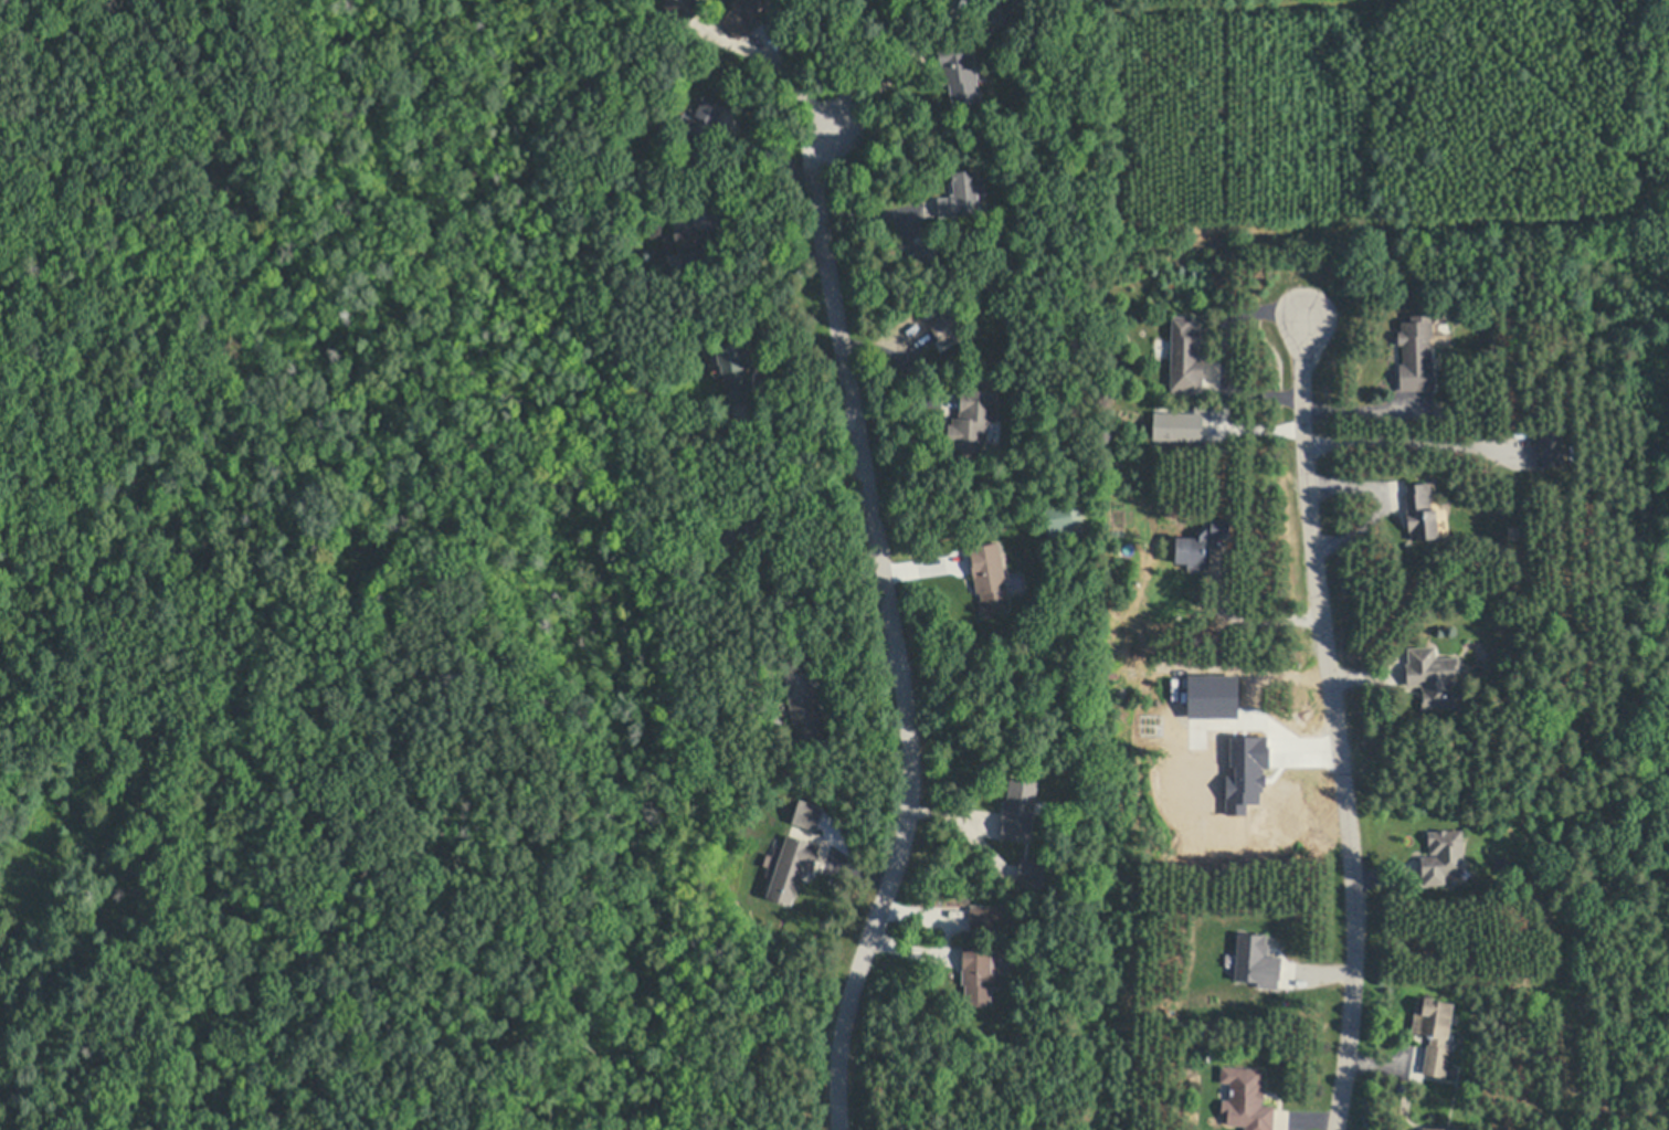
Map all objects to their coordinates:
building: (993, 0)
building: (684, 8)
building: (1014, 11)
building: (743, 17)
road: (784, 66)
building: (960, 70)
building: (700, 126)
building: (964, 194)
building: (688, 240)
building: (915, 251)
building: (936, 308)
building: (947, 327)
building: (1416, 353)
building: (1186, 356)
building: (737, 369)
building: (973, 419)
road: (1411, 437)
building: (1549, 450)
building: (1420, 513)
building: (1063, 519)
building: (739, 531)
building: (1200, 543)
building: (990, 577)
road: (896, 632)
building: (830, 640)
building: (1076, 674)
building: (1433, 676)
building: (1218, 697)
building: (804, 705)
road: (1335, 725)
building: (1253, 774)
building: (1020, 811)
building: (820, 816)
building: (1444, 856)
building: (792, 868)
building: (1032, 873)
building: (986, 917)
building: (1253, 961)
building: (980, 975)
building: (1434, 1035)
building: (1246, 1099)
building: (1440, 1129)

